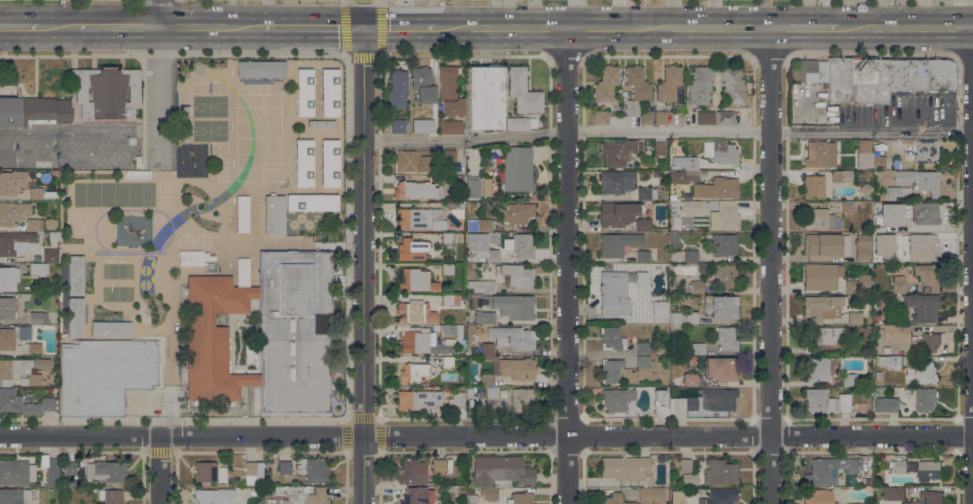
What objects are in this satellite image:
road: (159, 13)
road: (366, 13)
road: (762, 13)
road: (887, 13)
road: (503, 26)
road: (601, 26)
road: (905, 26)
road: (20, 27)
road: (58, 27)
road: (118, 27)
road: (210, 27)
road: (313, 27)
traffic signals: (366, 27)
road: (402, 27)
road: (705, 27)
road: (806, 27)
building: (261, 69)
building: (808, 71)
building: (903, 75)
building: (937, 75)
building: (839, 78)
building: (869, 80)
building: (606, 83)
building: (668, 83)
building: (423, 84)
building: (701, 85)
building: (733, 85)
building: (397, 88)
building: (636, 89)
building: (450, 91)
building: (107, 92)
building: (304, 92)
building: (330, 92)
building: (523, 92)
building: (485, 98)
building: (33, 111)
building: (245, 117)
building: (601, 117)
building: (660, 117)
building: (705, 117)
building: (725, 117)
building: (647, 118)
building: (520, 123)
building: (321, 124)
building: (422, 125)
building: (397, 126)
building: (186, 127)
building: (450, 127)
road: (668, 130)
road: (16, 131)
road: (97, 131)
building: (864, 146)
building: (660, 147)
building: (926, 151)
building: (617, 152)
building: (720, 152)
building: (818, 155)
building: (911, 157)
building: (863, 158)
building: (423, 160)
building: (458, 161)
building: (303, 162)
building: (882, 162)
building: (329, 163)
building: (905, 166)
building: (518, 169)
building: (686, 172)
building: (842, 176)
building: (456, 180)
building: (920, 181)
building: (11, 182)
building: (617, 182)
building: (86, 187)
building: (130, 187)
building: (486, 187)
building: (813, 187)
building: (473, 188)
building: (717, 188)
building: (419, 190)
building: (866, 190)
building: (646, 193)
building: (897, 193)
building: (43, 194)
building: (312, 202)
building: (672, 203)
building: (455, 205)
building: (848, 206)
building: (692, 207)
building: (673, 209)
building: (12, 212)
building: (242, 213)
building: (617, 213)
building: (925, 213)
building: (518, 214)
building: (726, 214)
building: (890, 214)
building: (274, 215)
building: (420, 219)
building: (821, 219)
building: (50, 223)
building: (75, 224)
building: (34, 225)
building: (479, 225)
building: (644, 225)
road: (162, 233)
building: (53, 235)
building: (673, 237)
building: (876, 237)
building: (447, 238)
building: (18, 243)
building: (617, 244)
building: (825, 244)
building: (520, 245)
building: (725, 245)
building: (862, 246)
building: (482, 247)
building: (923, 247)
building: (410, 249)
building: (50, 256)
building: (643, 256)
building: (691, 256)
building: (191, 263)
road: (569, 264)
road: (367, 265)
building: (649, 265)
road: (773, 265)
building: (611, 266)
building: (893, 267)
building: (38, 268)
building: (447, 269)
building: (76, 274)
building: (517, 275)
building: (725, 275)
building: (821, 276)
building: (928, 276)
building: (8, 278)
building: (413, 280)
building: (898, 283)
building: (41, 284)
building: (858, 284)
building: (480, 286)
building: (697, 287)
building: (615, 289)
building: (450, 300)
building: (513, 306)
building: (721, 306)
building: (7, 307)
building: (822, 307)
building: (922, 307)
building: (414, 312)
building: (660, 312)
building: (38, 317)
building: (76, 317)
building: (484, 317)
building: (877, 317)
building: (682, 318)
building: (855, 318)
building: (110, 329)
building: (450, 330)
building: (266, 332)
building: (911, 335)
building: (825, 337)
building: (612, 338)
building: (726, 338)
building: (19, 339)
building: (518, 339)
building: (424, 342)
building: (487, 346)
building: (644, 348)
building: (697, 348)
building: (690, 359)
building: (889, 361)
building: (447, 362)
building: (643, 362)
building: (517, 368)
building: (815, 368)
building: (722, 369)
building: (611, 370)
building: (23, 371)
building: (413, 373)
building: (922, 373)
building: (105, 374)
building: (877, 375)
building: (487, 380)
building: (687, 380)
building: (845, 381)
building: (469, 391)
building: (679, 392)
building: (504, 394)
building: (491, 398)
building: (718, 399)
building: (925, 399)
building: (418, 400)
building: (457, 400)
building: (521, 400)
building: (826, 401)
building: (617, 403)
building: (25, 404)
building: (686, 404)
building: (887, 405)
road: (486, 437)
building: (438, 465)
building: (685, 466)
building: (901, 466)
building: (285, 467)
building: (69, 468)
building: (625, 468)
road: (162, 470)
building: (313, 470)
building: (828, 470)
building: (929, 470)
building: (106, 471)
building: (501, 471)
building: (15, 472)
building: (52, 472)
building: (209, 472)
building: (412, 472)
building: (720, 472)
building: (253, 473)
building: (689, 478)
building: (848, 483)
building: (489, 493)
building: (312, 494)
building: (652, 494)
building: (894, 494)
building: (13, 496)
building: (111, 496)
building: (215, 496)
building: (417, 496)
building: (719, 496)
building: (818, 496)
building: (677, 497)
building: (520, 498)
building: (927, 498)
building: (472, 499)
building: (614, 499)
building: (853, 503)

